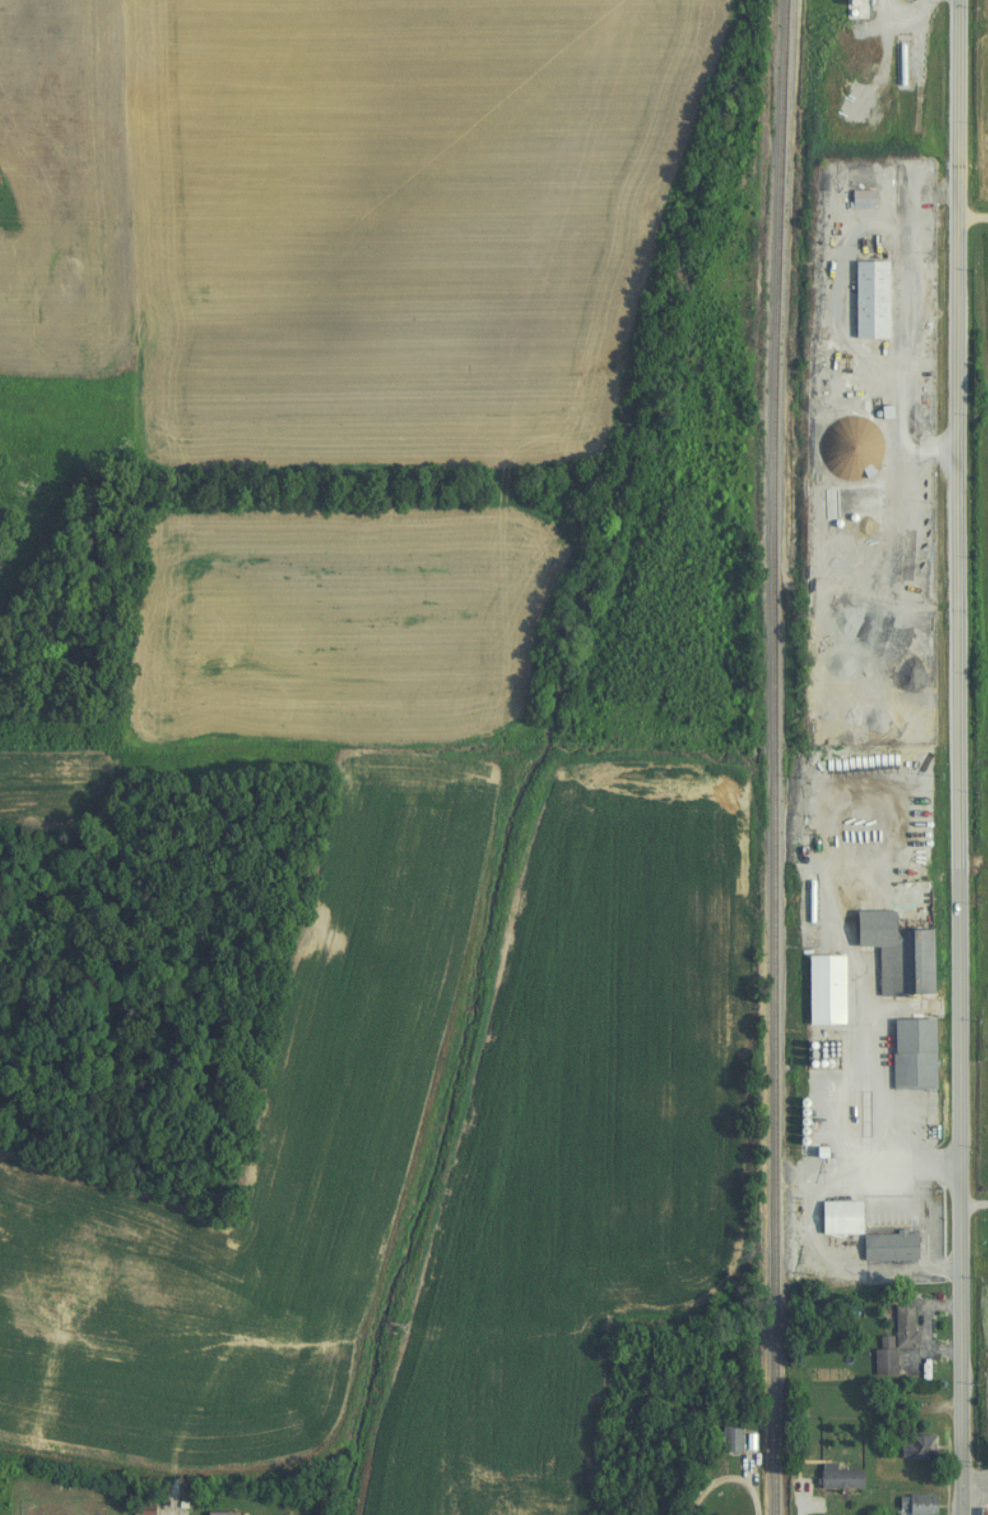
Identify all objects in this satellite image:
road: (918, 62)
building: (857, 198)
road: (971, 216)
building: (865, 298)
building: (851, 448)
road: (957, 641)
railway: (770, 757)
building: (891, 953)
building: (819, 989)
building: (908, 1054)
road: (973, 1205)
building: (890, 1340)
road: (960, 1398)
building: (726, 1439)
building: (833, 1477)
road: (730, 1479)
road: (805, 1496)
building: (911, 1504)
building: (136, 1508)
building: (212, 1513)

